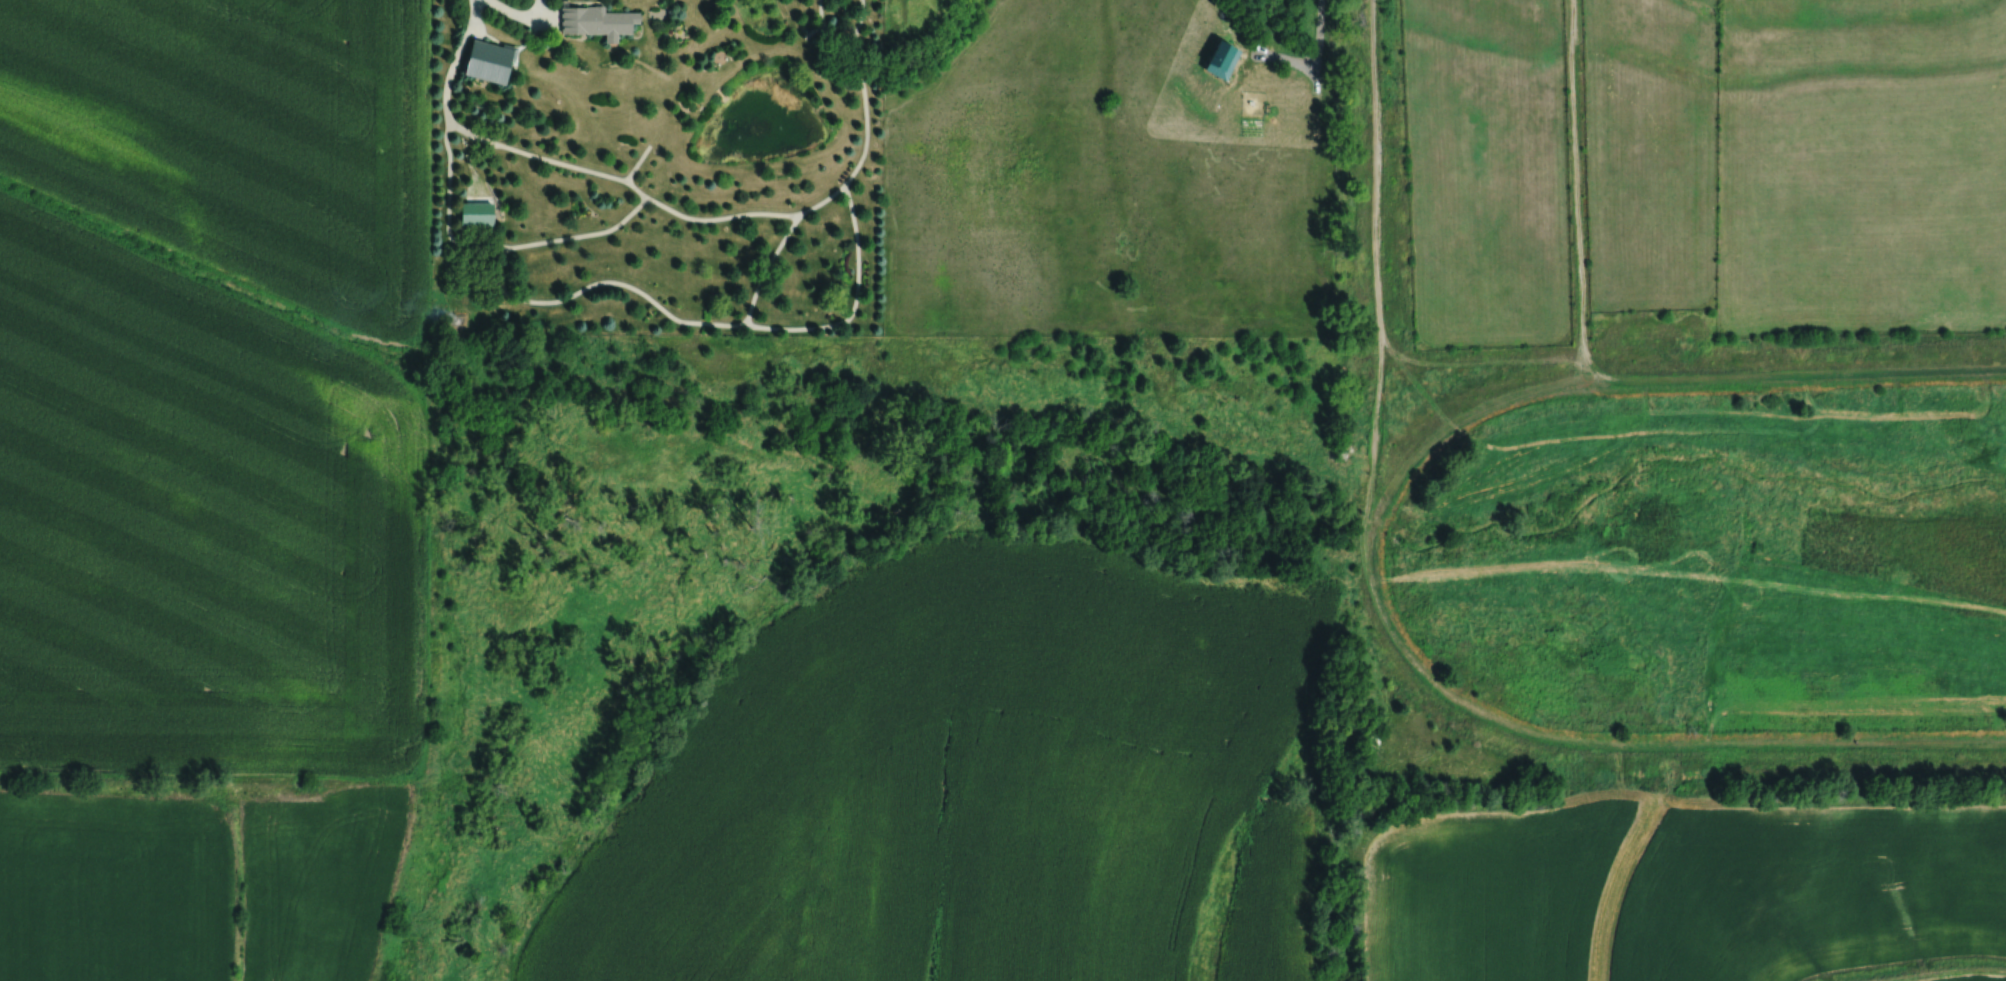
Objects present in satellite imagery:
road: (537, 9)
road: (522, 16)
road: (477, 20)
building: (596, 22)
road: (1318, 27)
building: (488, 61)
road: (445, 101)
building: (476, 214)

